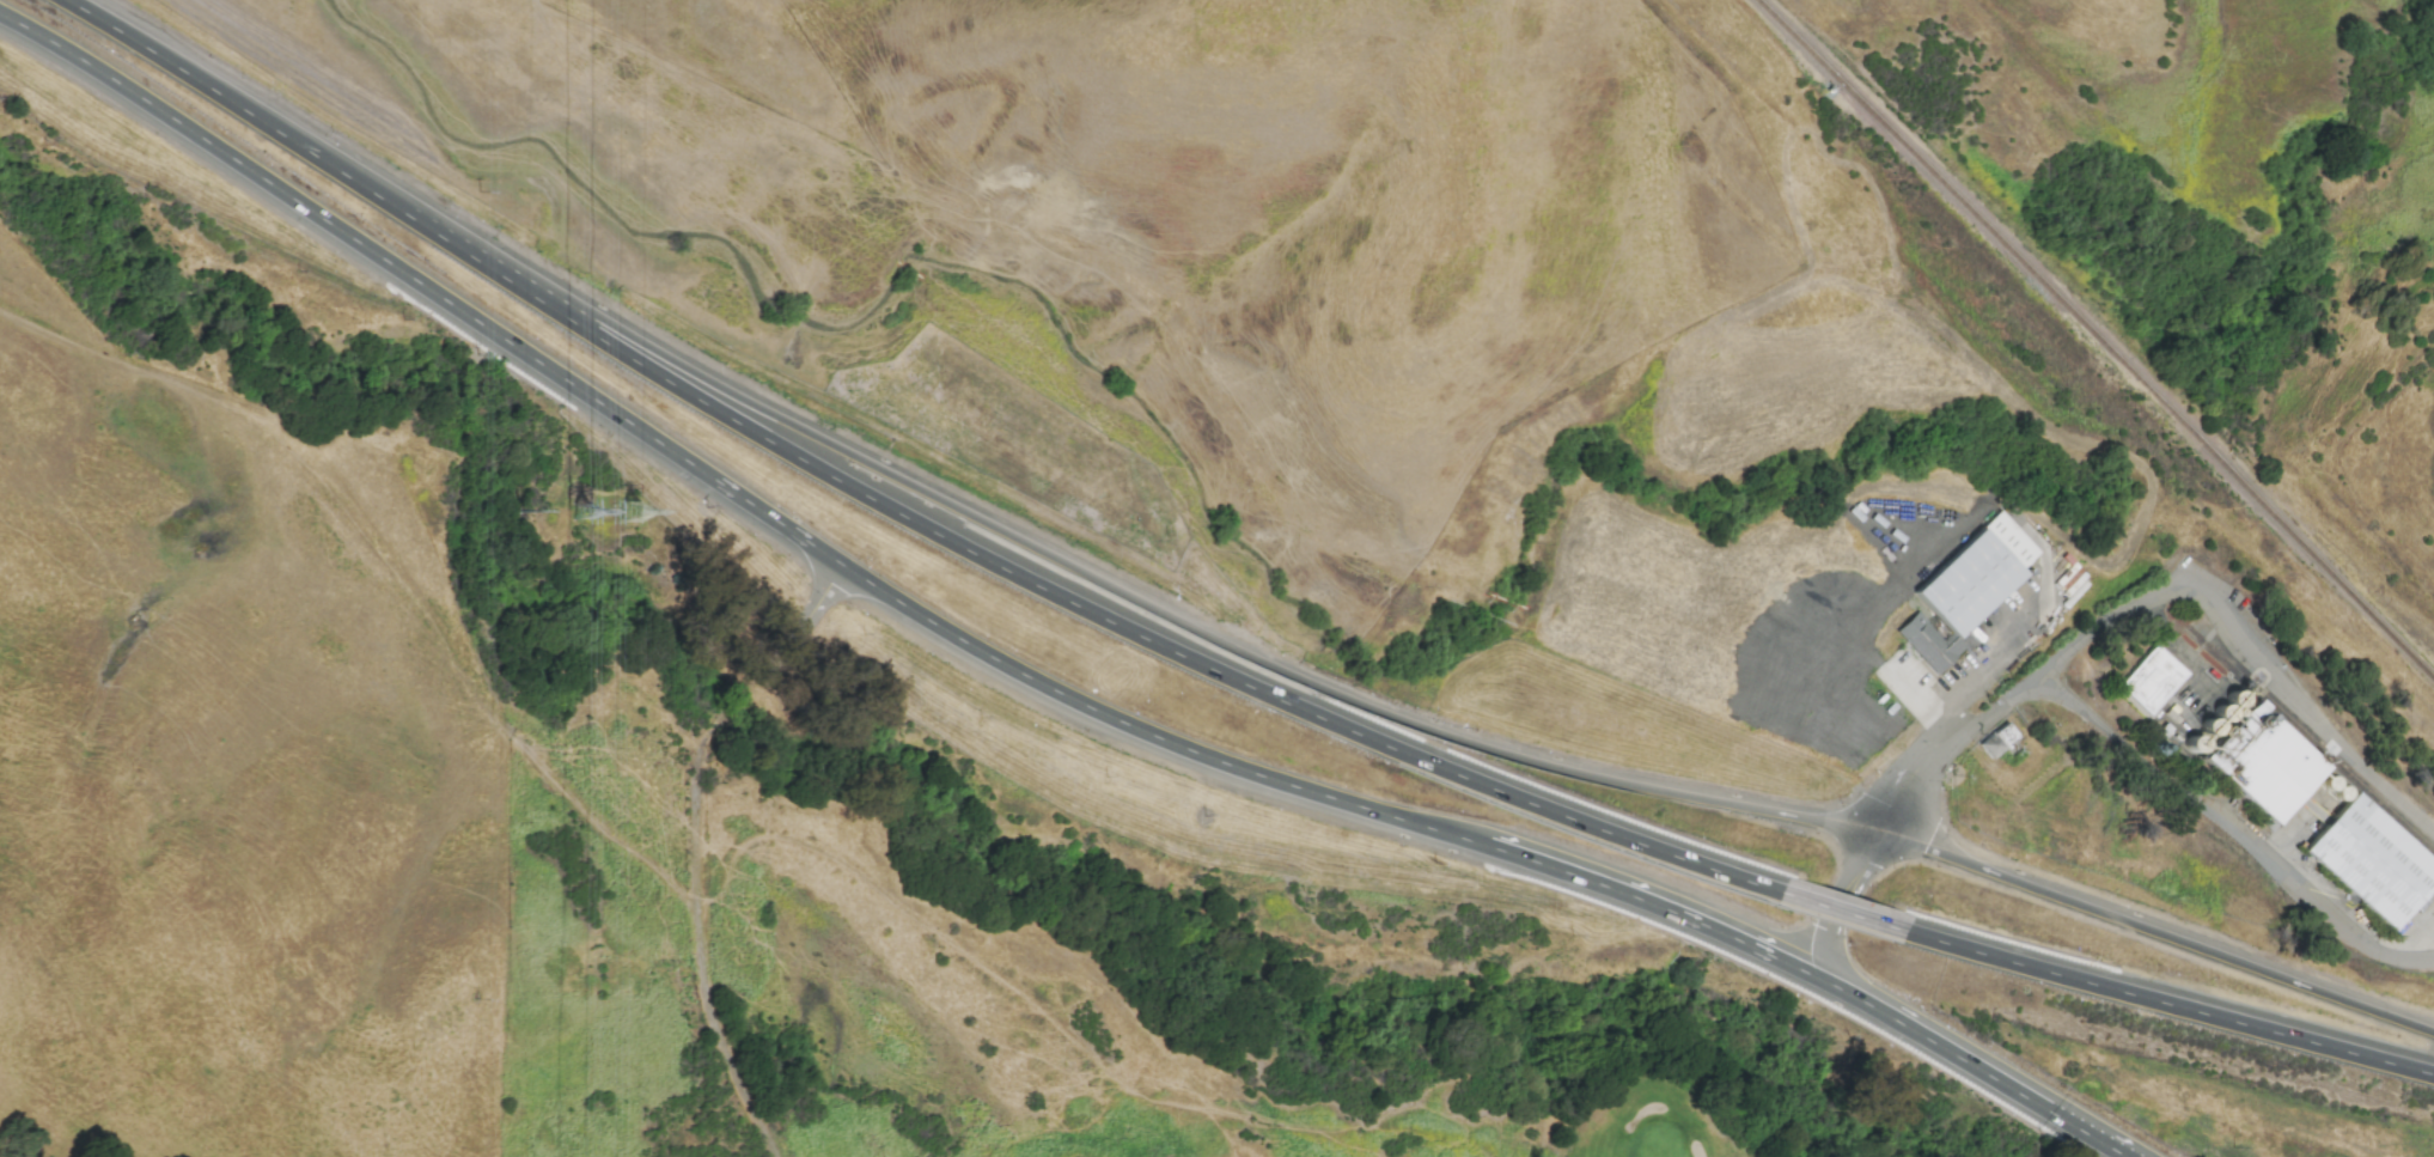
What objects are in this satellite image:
road: (85, 62)
road: (269, 127)
railway: (2098, 334)
road: (505, 340)
power tower: (582, 512)
power tower: (524, 514)
power tower: (636, 517)
road: (384, 567)
building: (1964, 590)
road: (1151, 608)
road: (806, 619)
road: (1105, 620)
road: (2250, 647)
road: (2001, 648)
building: (2152, 680)
road: (755, 690)
road: (1918, 693)
road: (1953, 699)
road: (1975, 726)
road: (1149, 733)
railway: (2310, 738)
building: (1996, 741)
crop: (230, 751)
building: (2263, 762)
road: (2234, 828)
building: (2371, 860)
road: (1860, 876)
road: (1652, 905)
road: (1843, 912)
road: (700, 932)
road: (2155, 932)
road: (2168, 1005)
road: (1055, 1023)
road: (1936, 1046)
park: (1726, 1058)
road: (2090, 1137)

